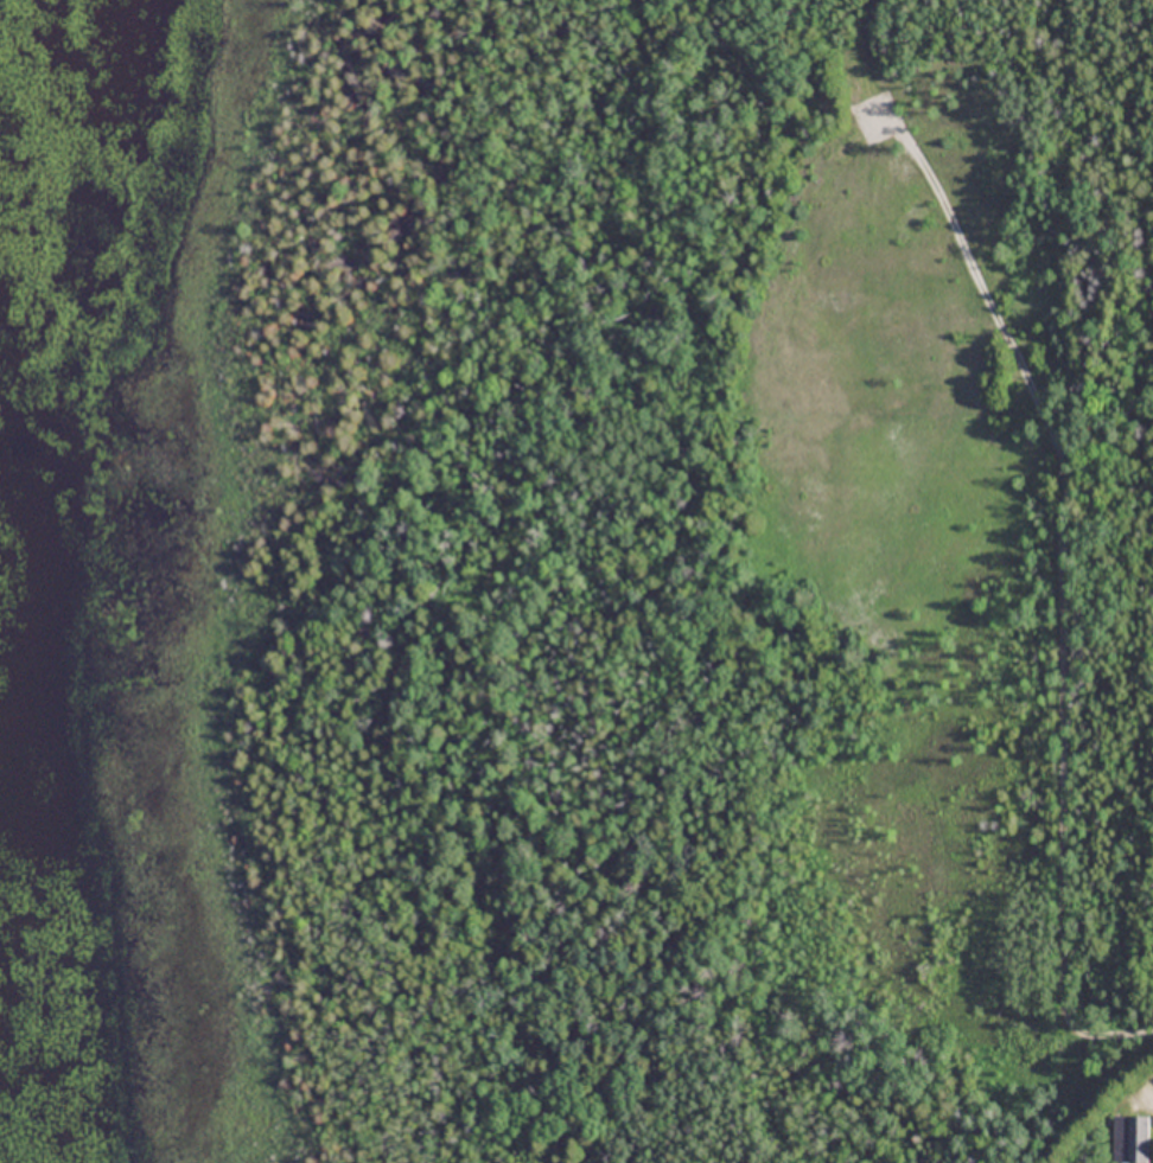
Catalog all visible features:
road: (1056, 584)
building: (1132, 1139)

